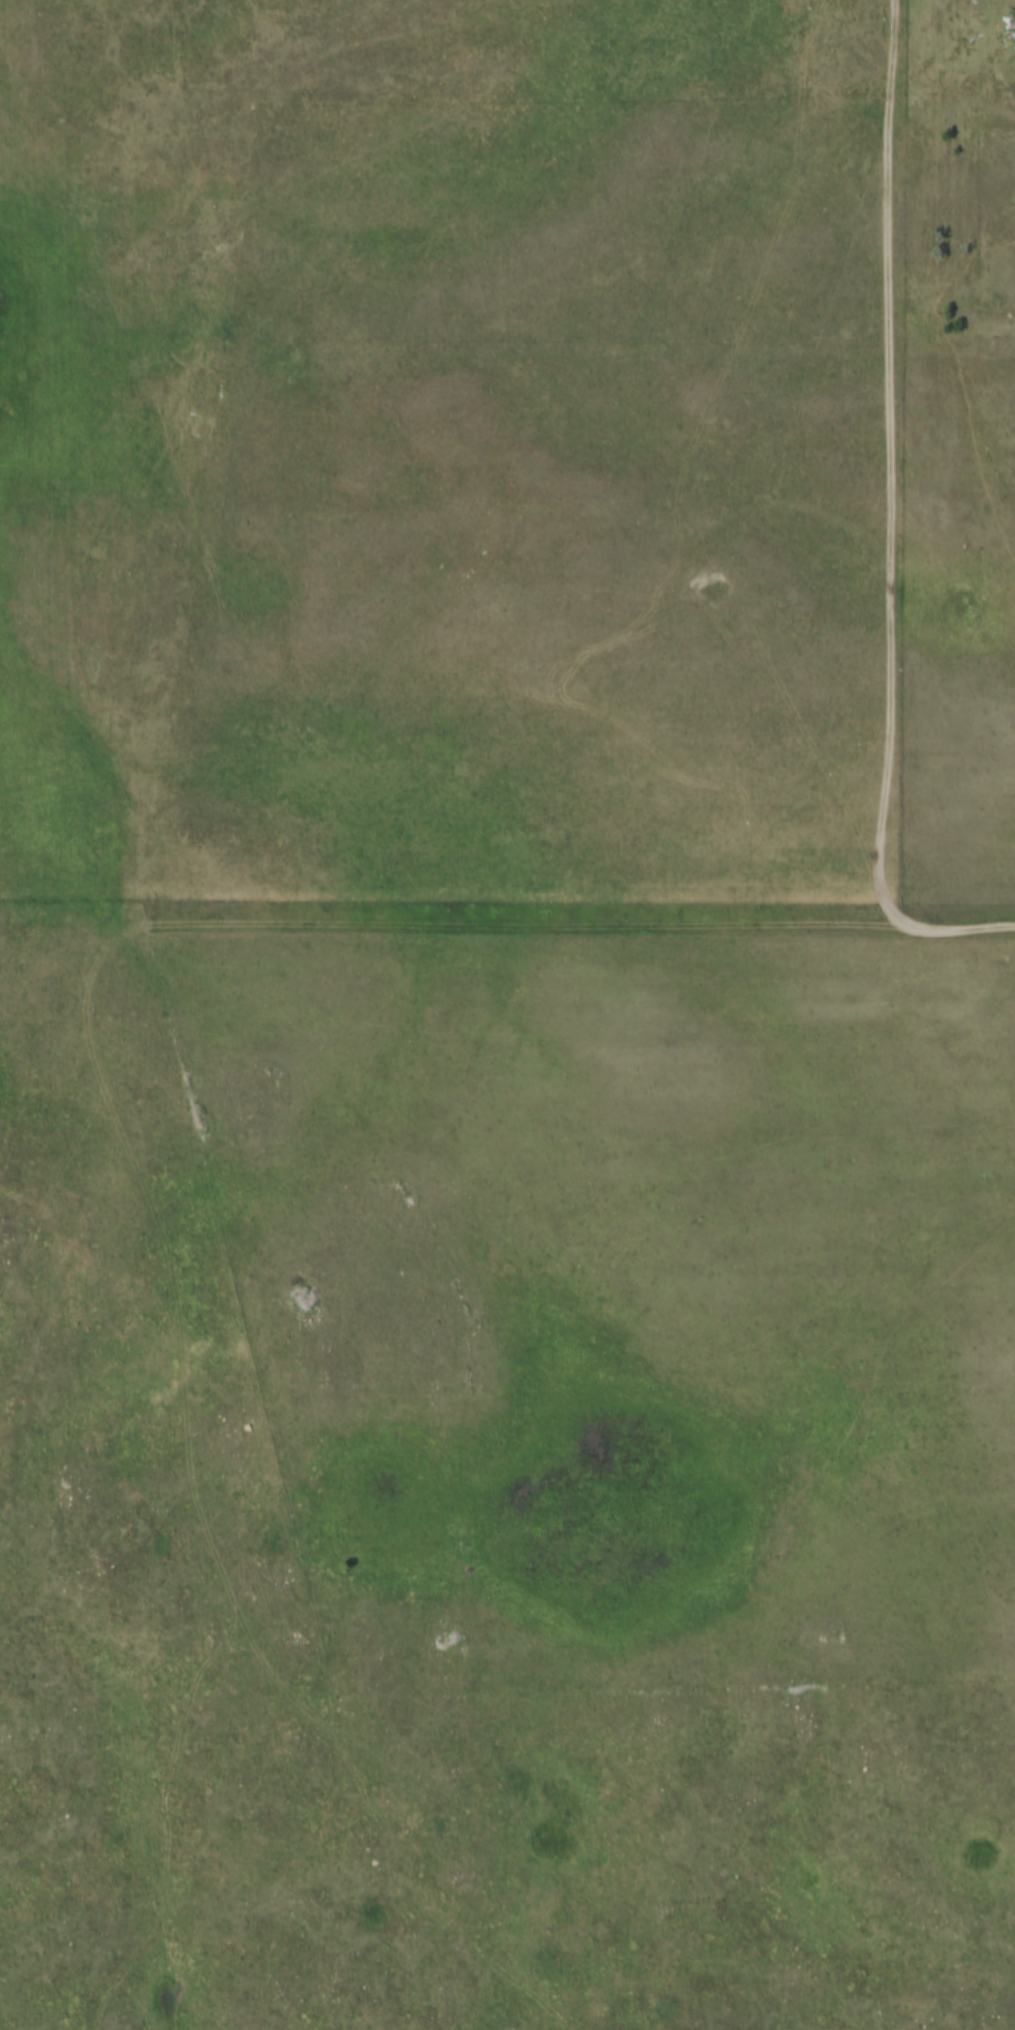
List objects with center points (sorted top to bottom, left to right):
road: (888, 472)
road: (964, 928)
road: (457, 933)

